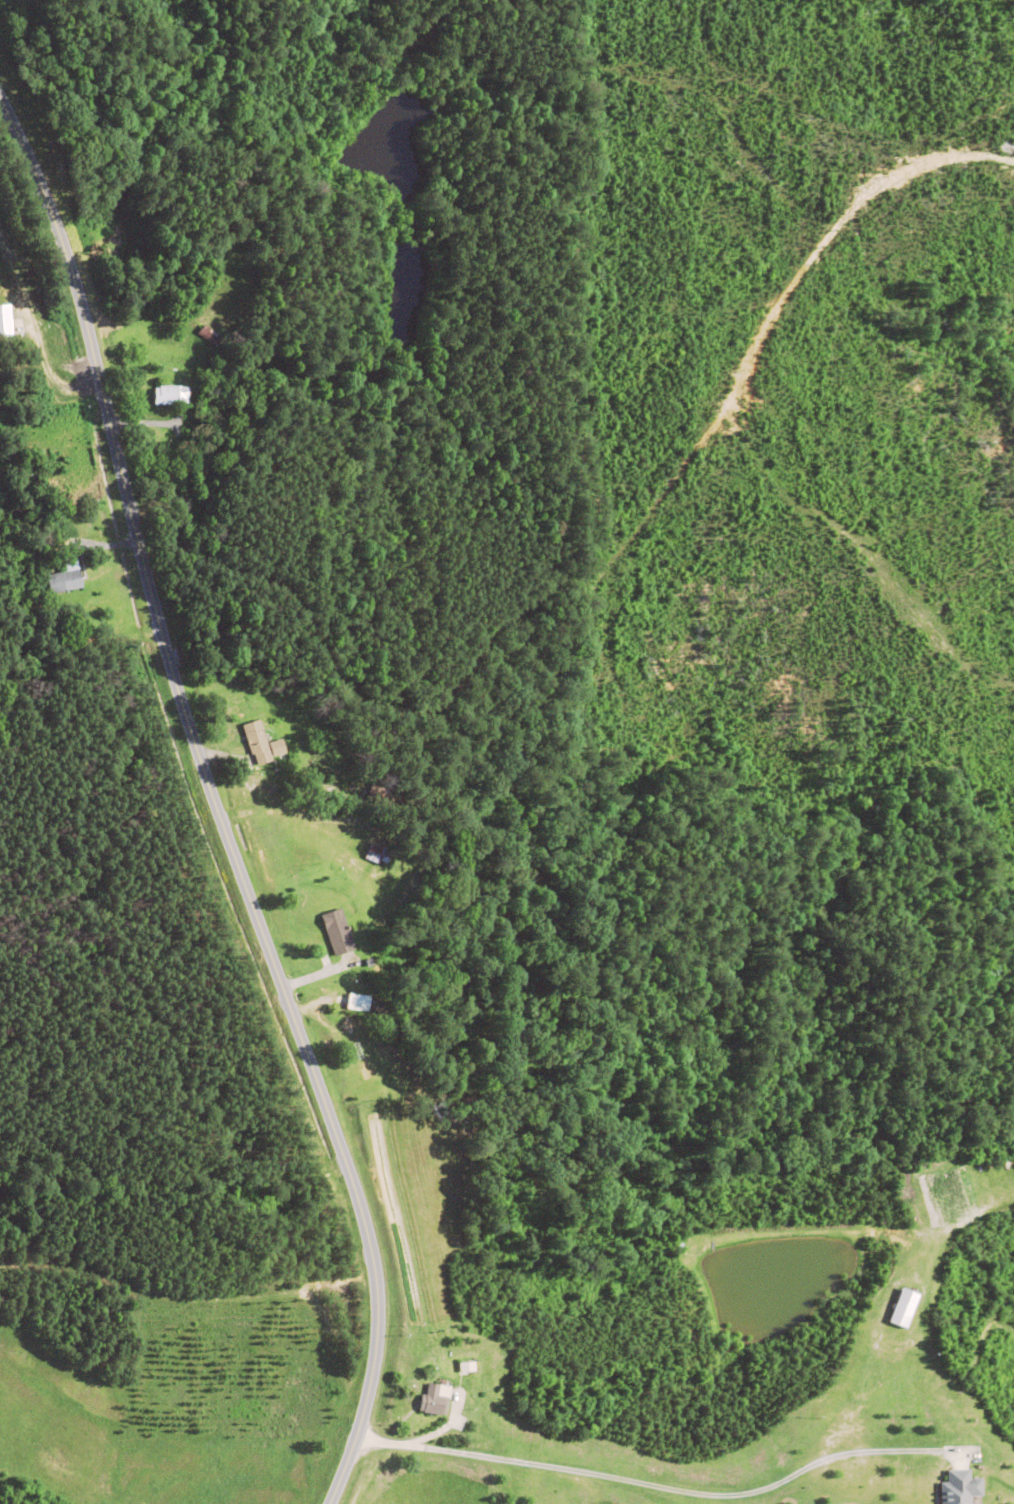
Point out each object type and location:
building: (4, 320)
building: (208, 336)
building: (169, 395)
building: (27, 474)
building: (65, 577)
building: (262, 744)
road: (194, 835)
building: (374, 853)
building: (336, 932)
building: (356, 1002)
road: (174, 1234)
building: (902, 1308)
building: (434, 1400)
building: (958, 1488)

